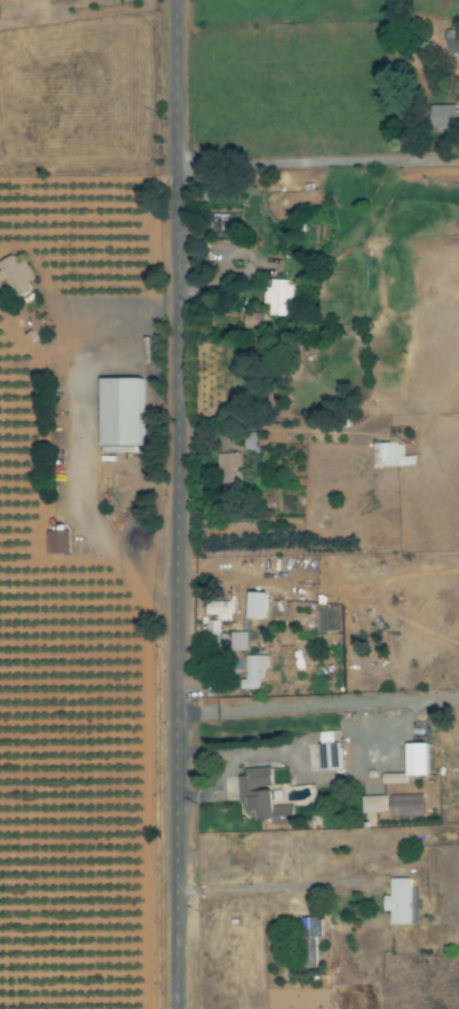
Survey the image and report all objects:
building: (453, 42)
building: (443, 118)
road: (317, 162)
building: (17, 276)
road: (88, 291)
building: (280, 297)
building: (123, 414)
building: (251, 442)
building: (391, 455)
building: (230, 472)
road: (177, 504)
building: (58, 542)
building: (257, 605)
building: (220, 610)
building: (213, 628)
building: (239, 641)
building: (254, 672)
building: (330, 754)
building: (416, 759)
building: (263, 797)
building: (296, 797)
building: (374, 804)
building: (407, 806)
building: (402, 902)
building: (311, 936)

